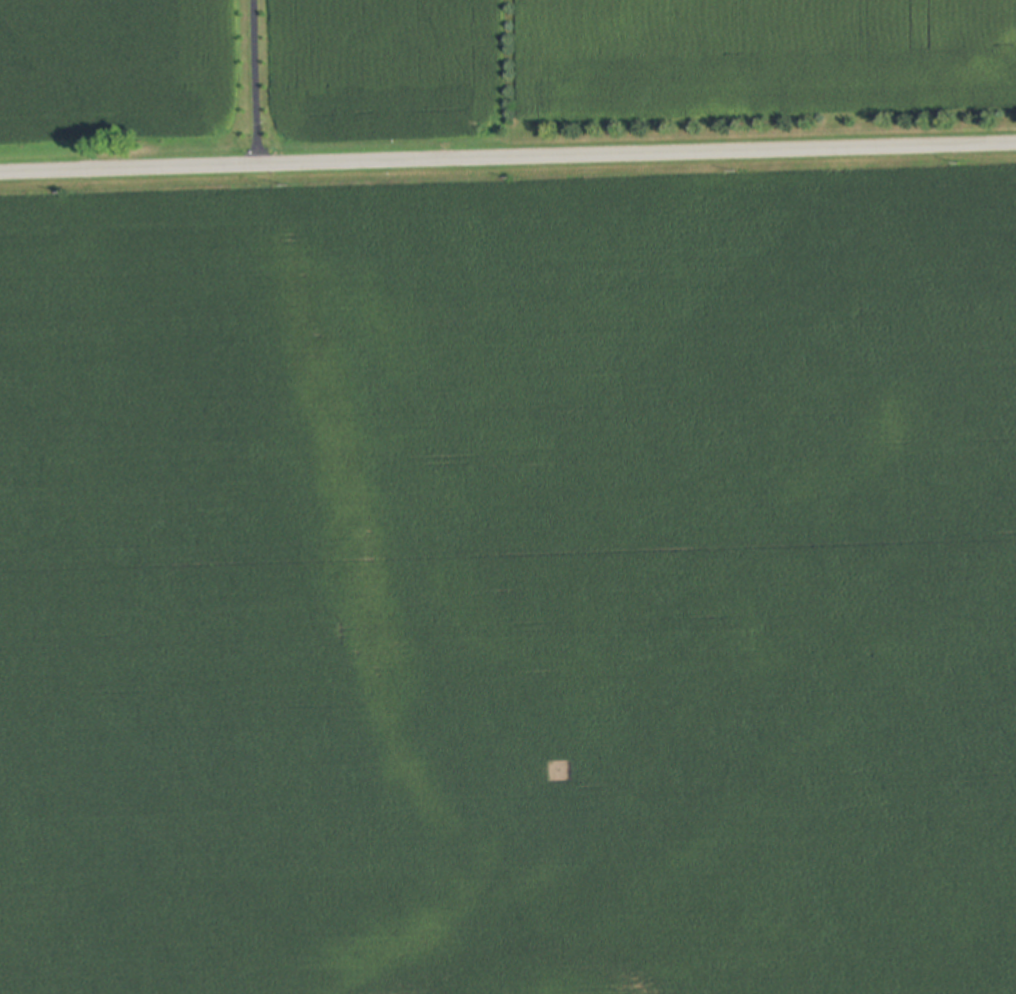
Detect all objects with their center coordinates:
road: (255, 82)
road: (507, 157)

